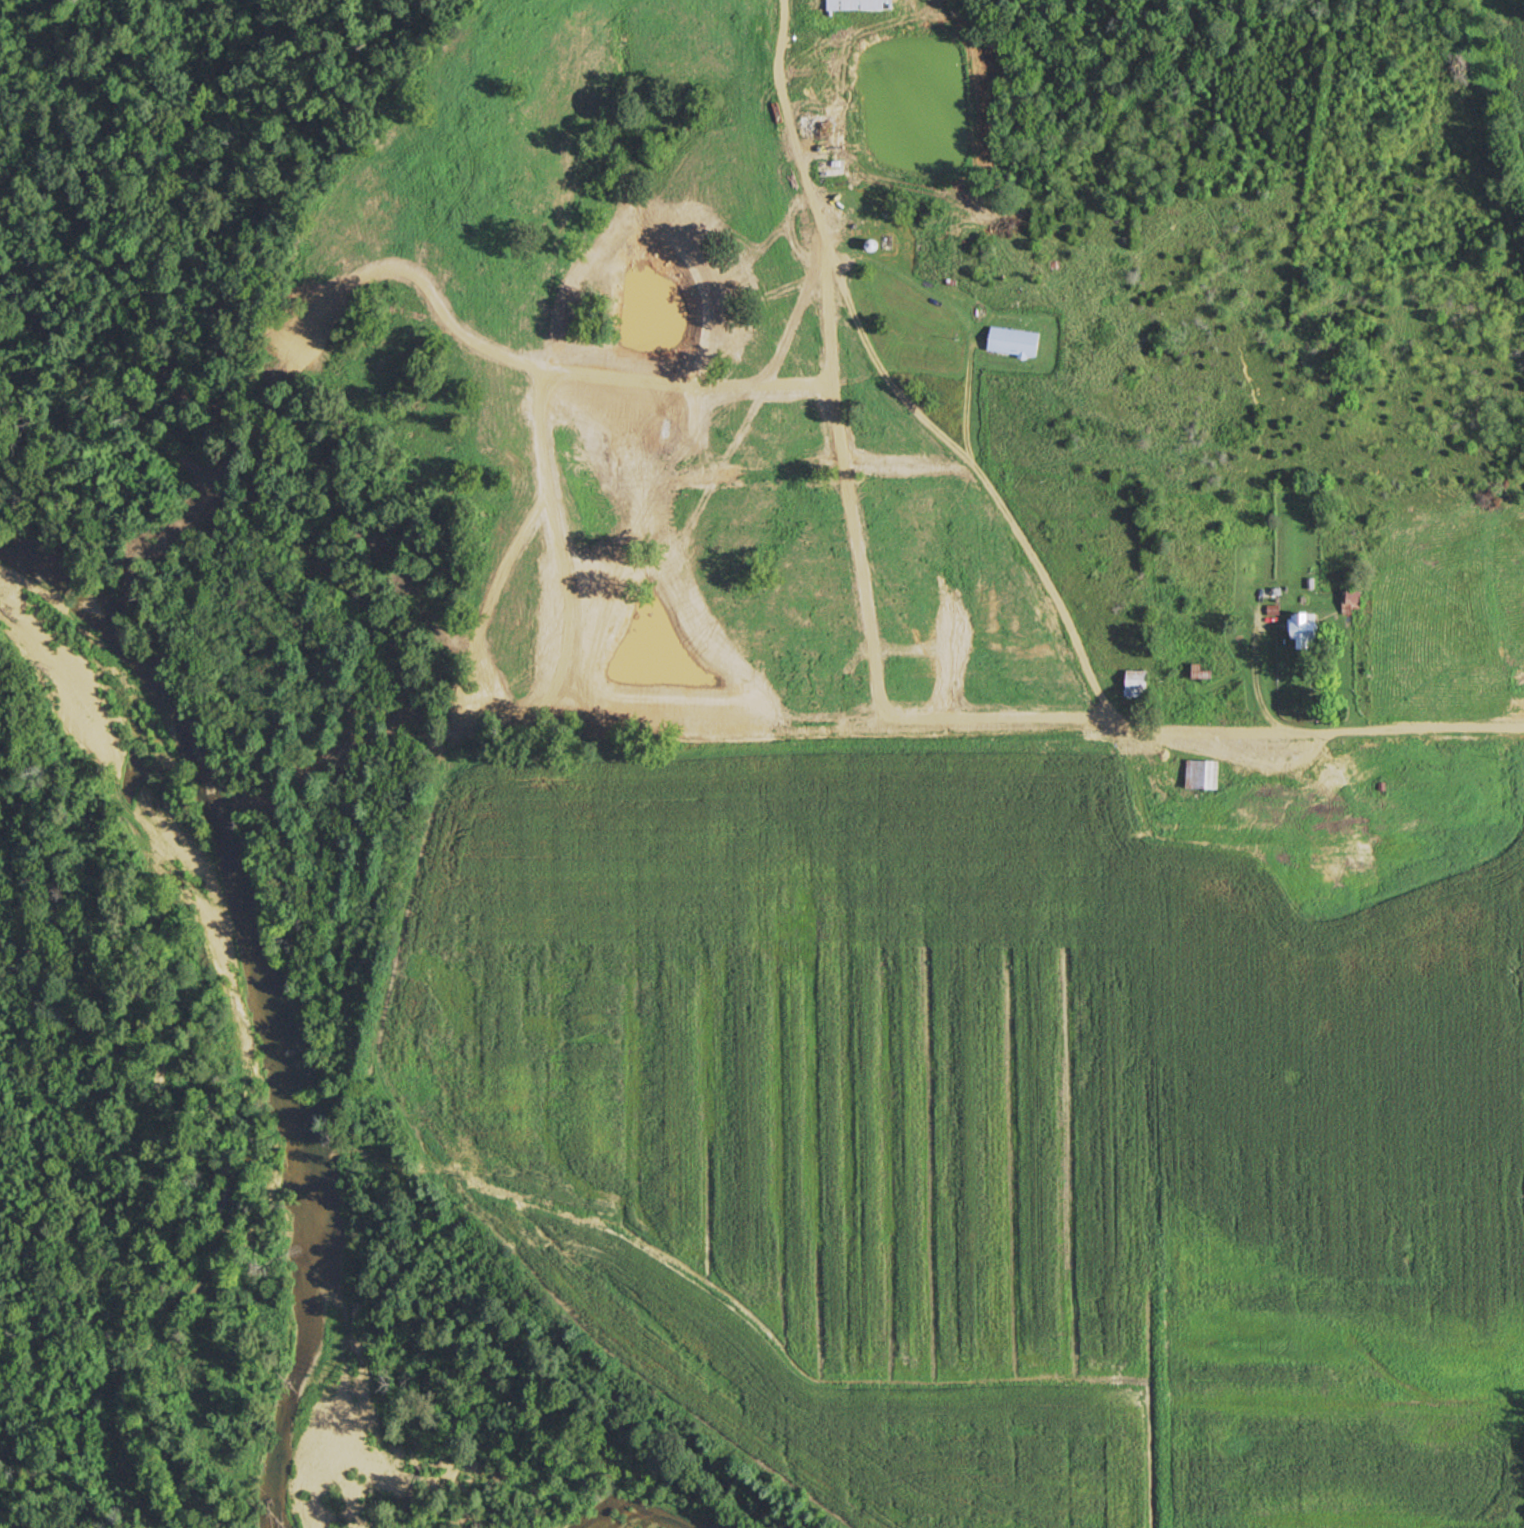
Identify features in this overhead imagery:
building: (859, 4)
building: (819, 125)
building: (831, 168)
building: (1014, 342)
road: (1025, 544)
building: (1351, 602)
building: (1306, 630)
building: (1136, 683)
building: (1202, 774)
building: (1333, 812)
river: (264, 1007)
river: (632, 1515)

